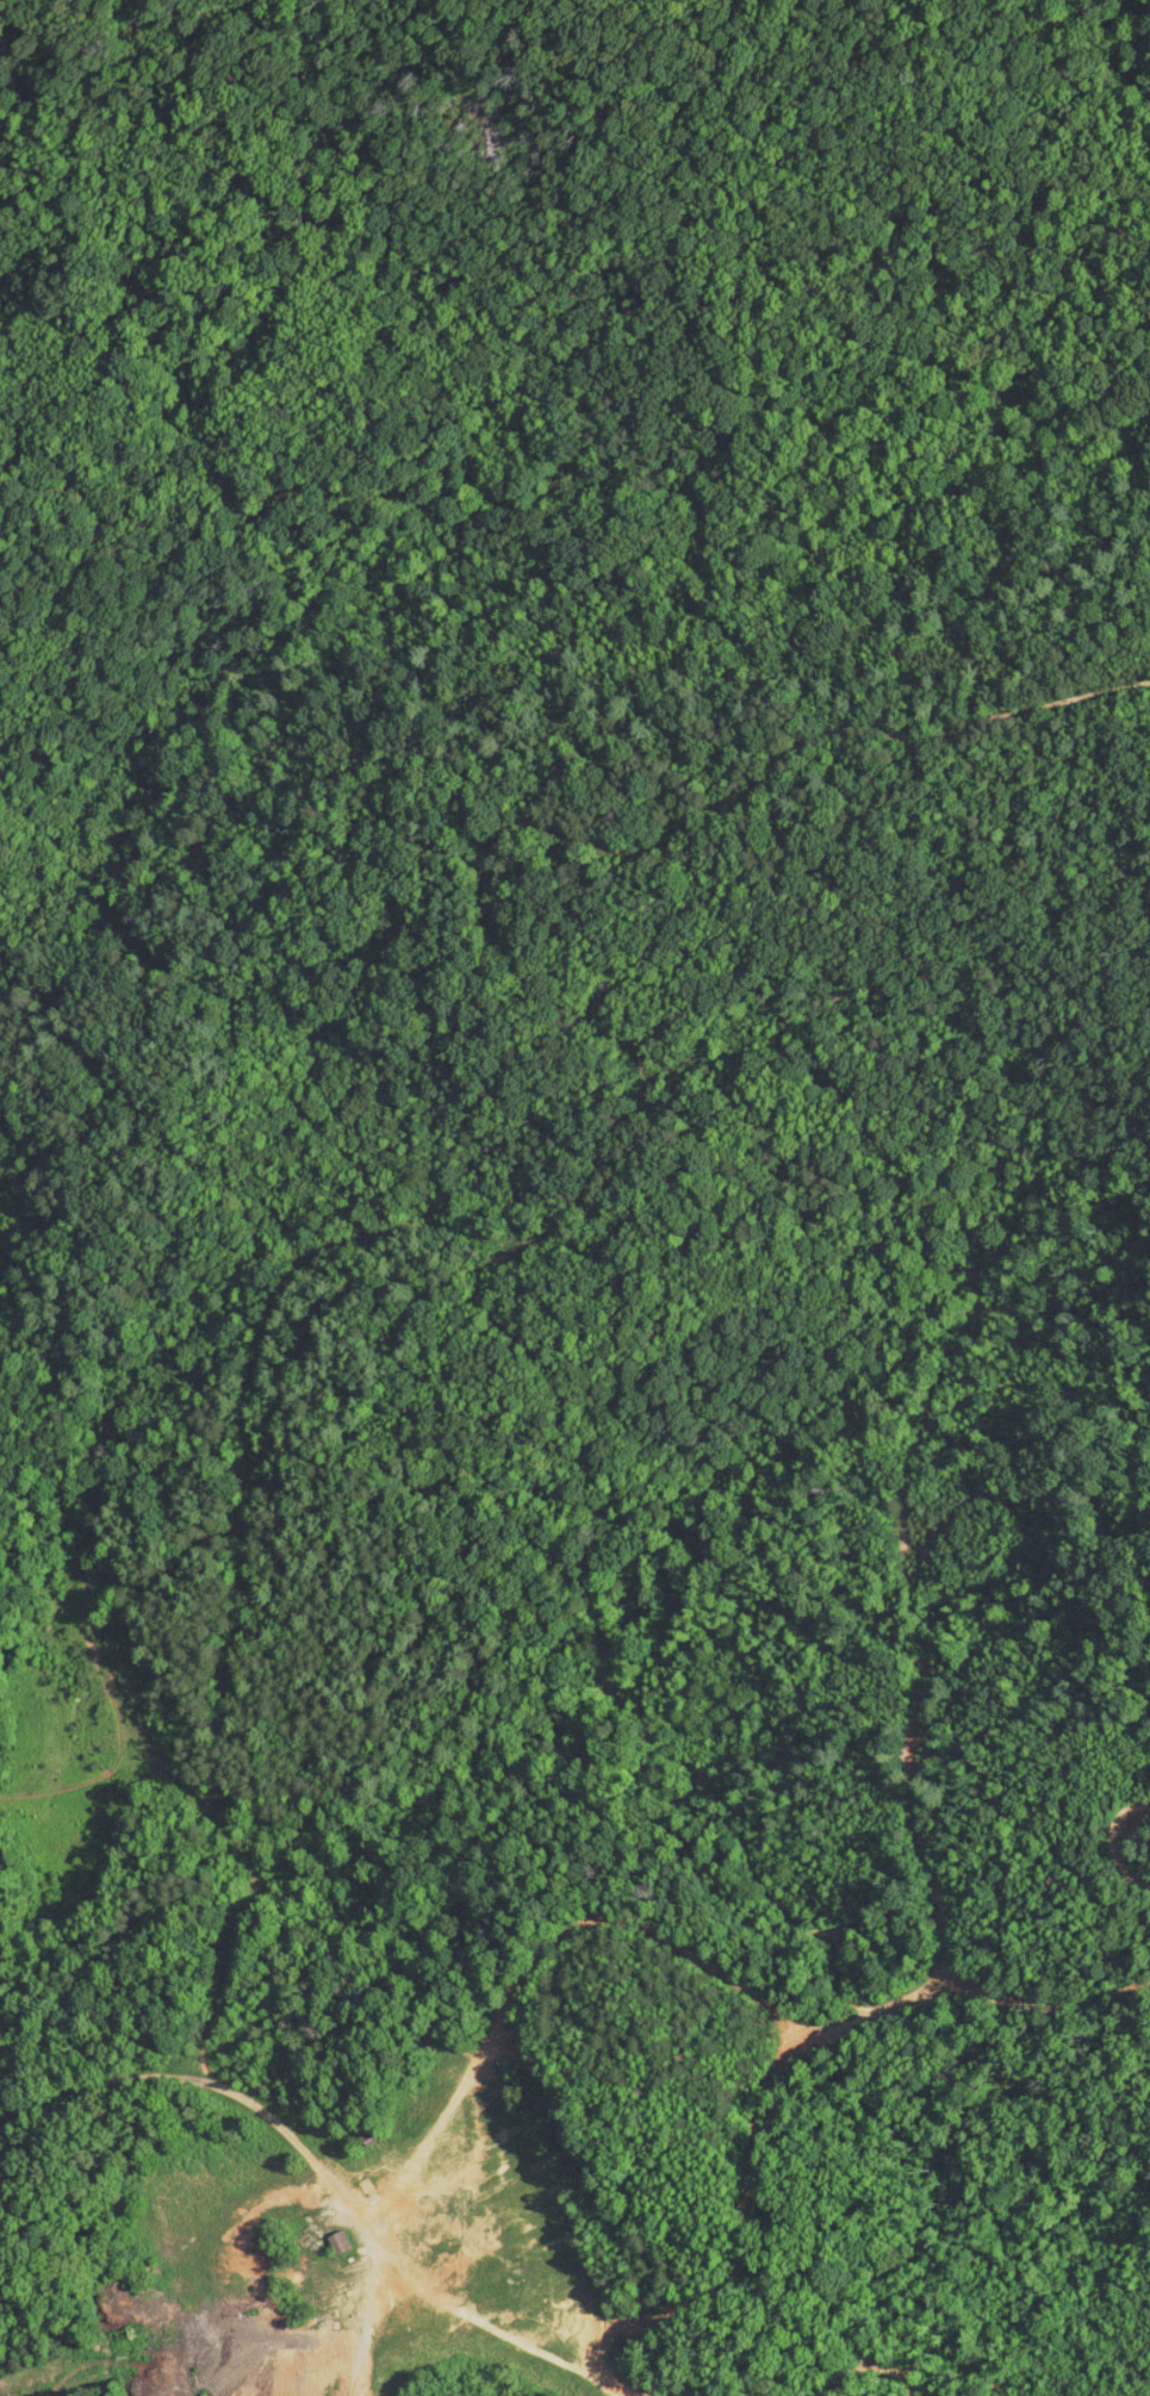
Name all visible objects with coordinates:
road: (209, 2081)
building: (334, 2242)

